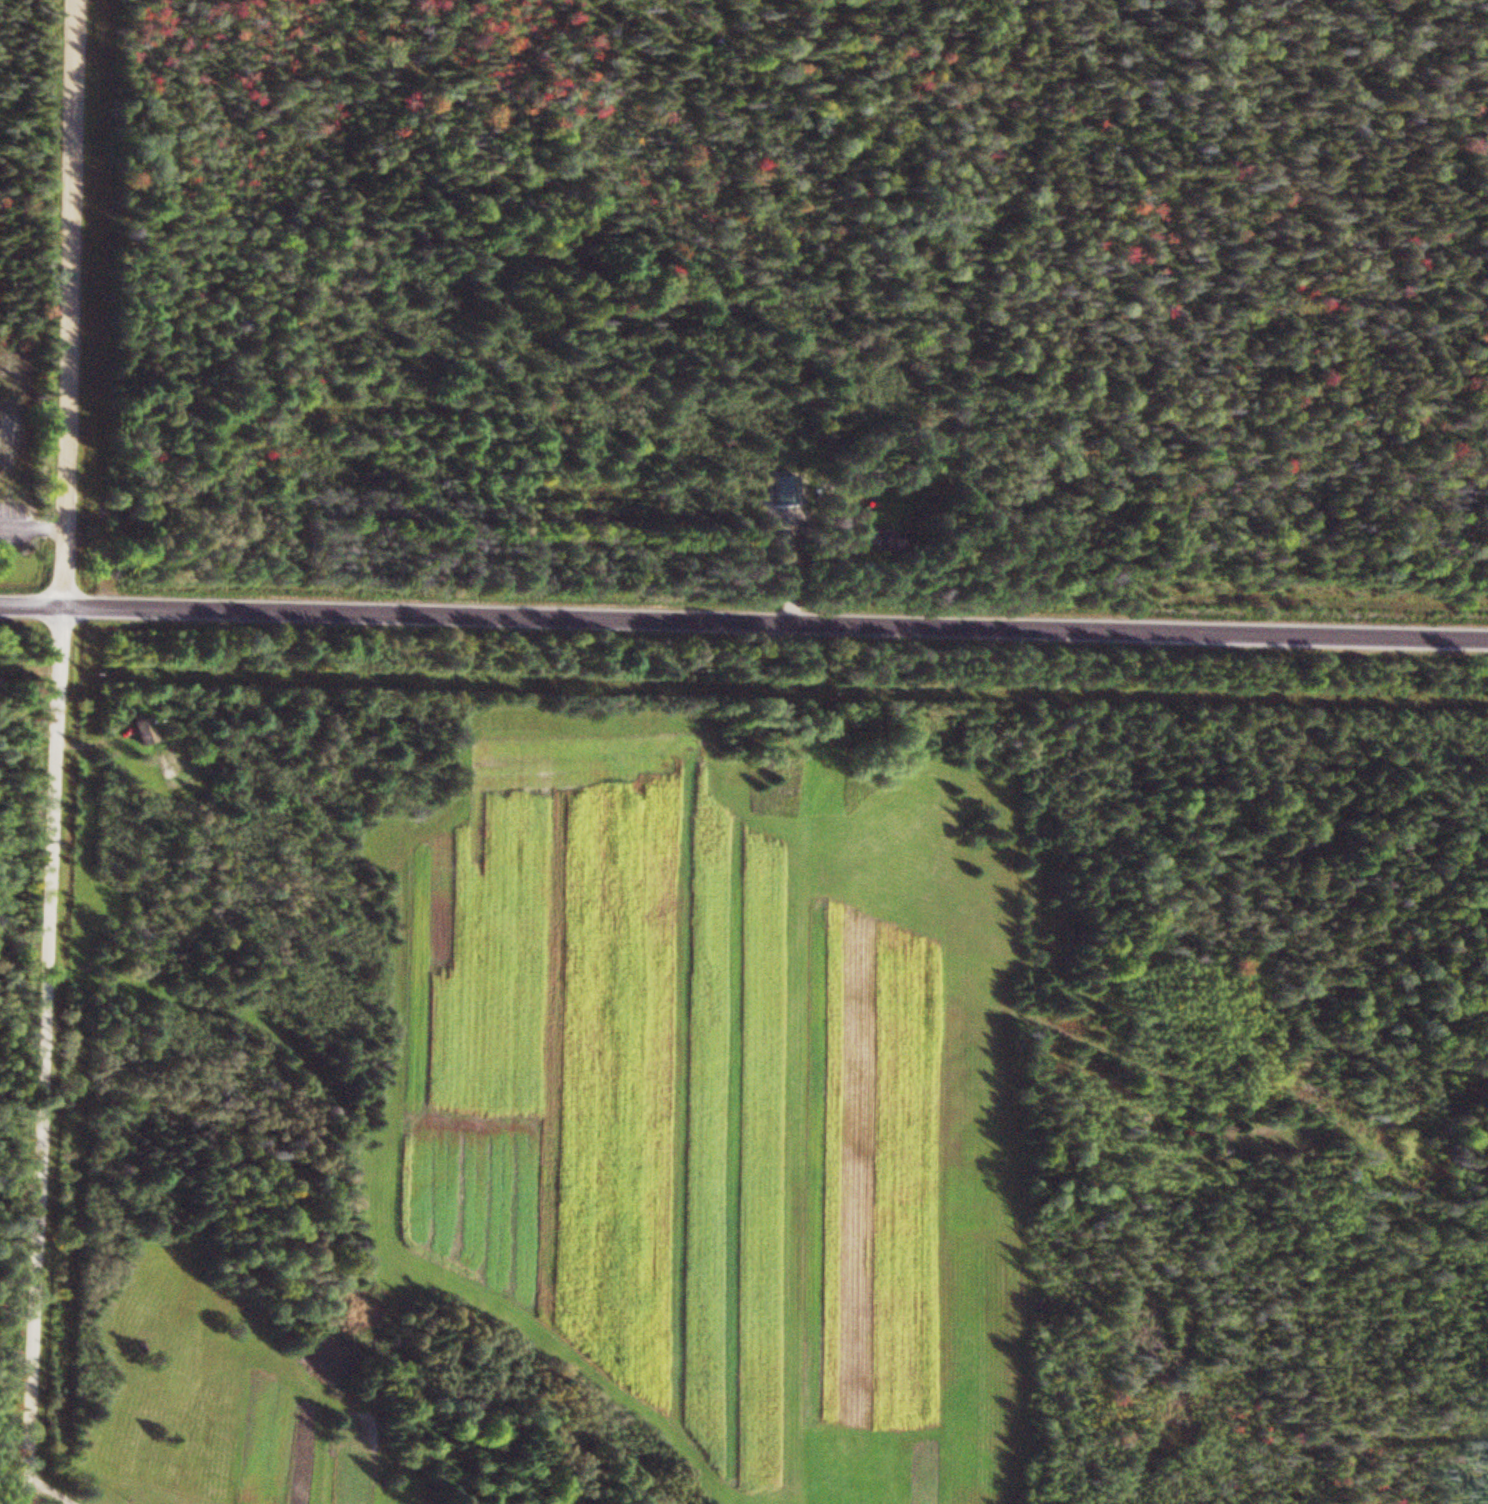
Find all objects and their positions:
building: (880, 538)
road: (32, 606)
road: (776, 622)
building: (147, 732)
road: (59, 752)

